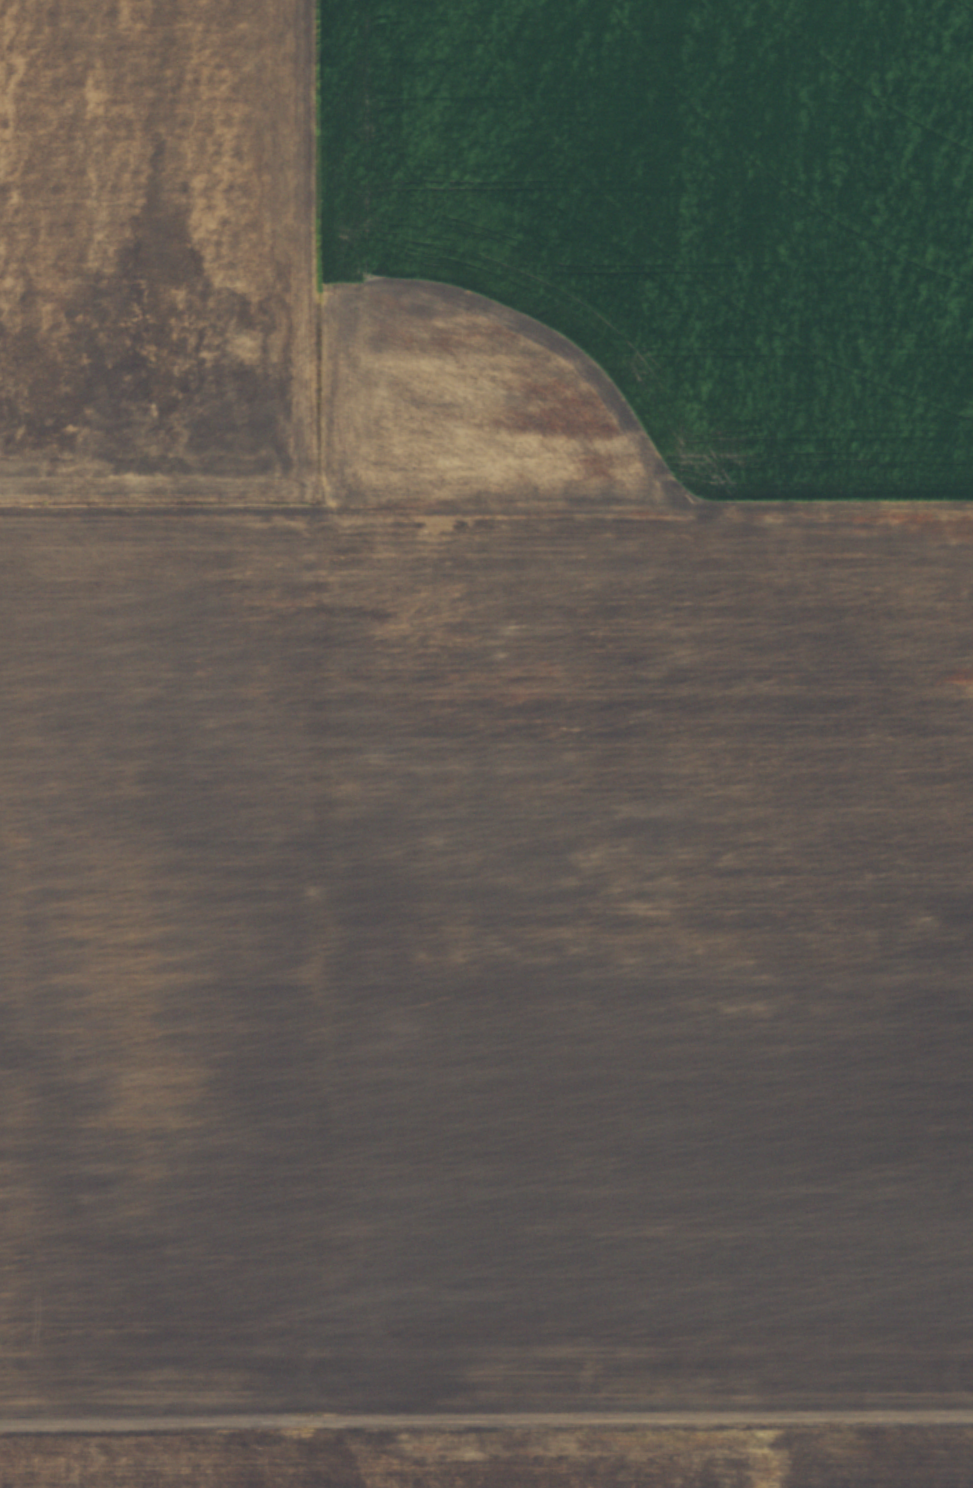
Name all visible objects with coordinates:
road: (486, 1423)

